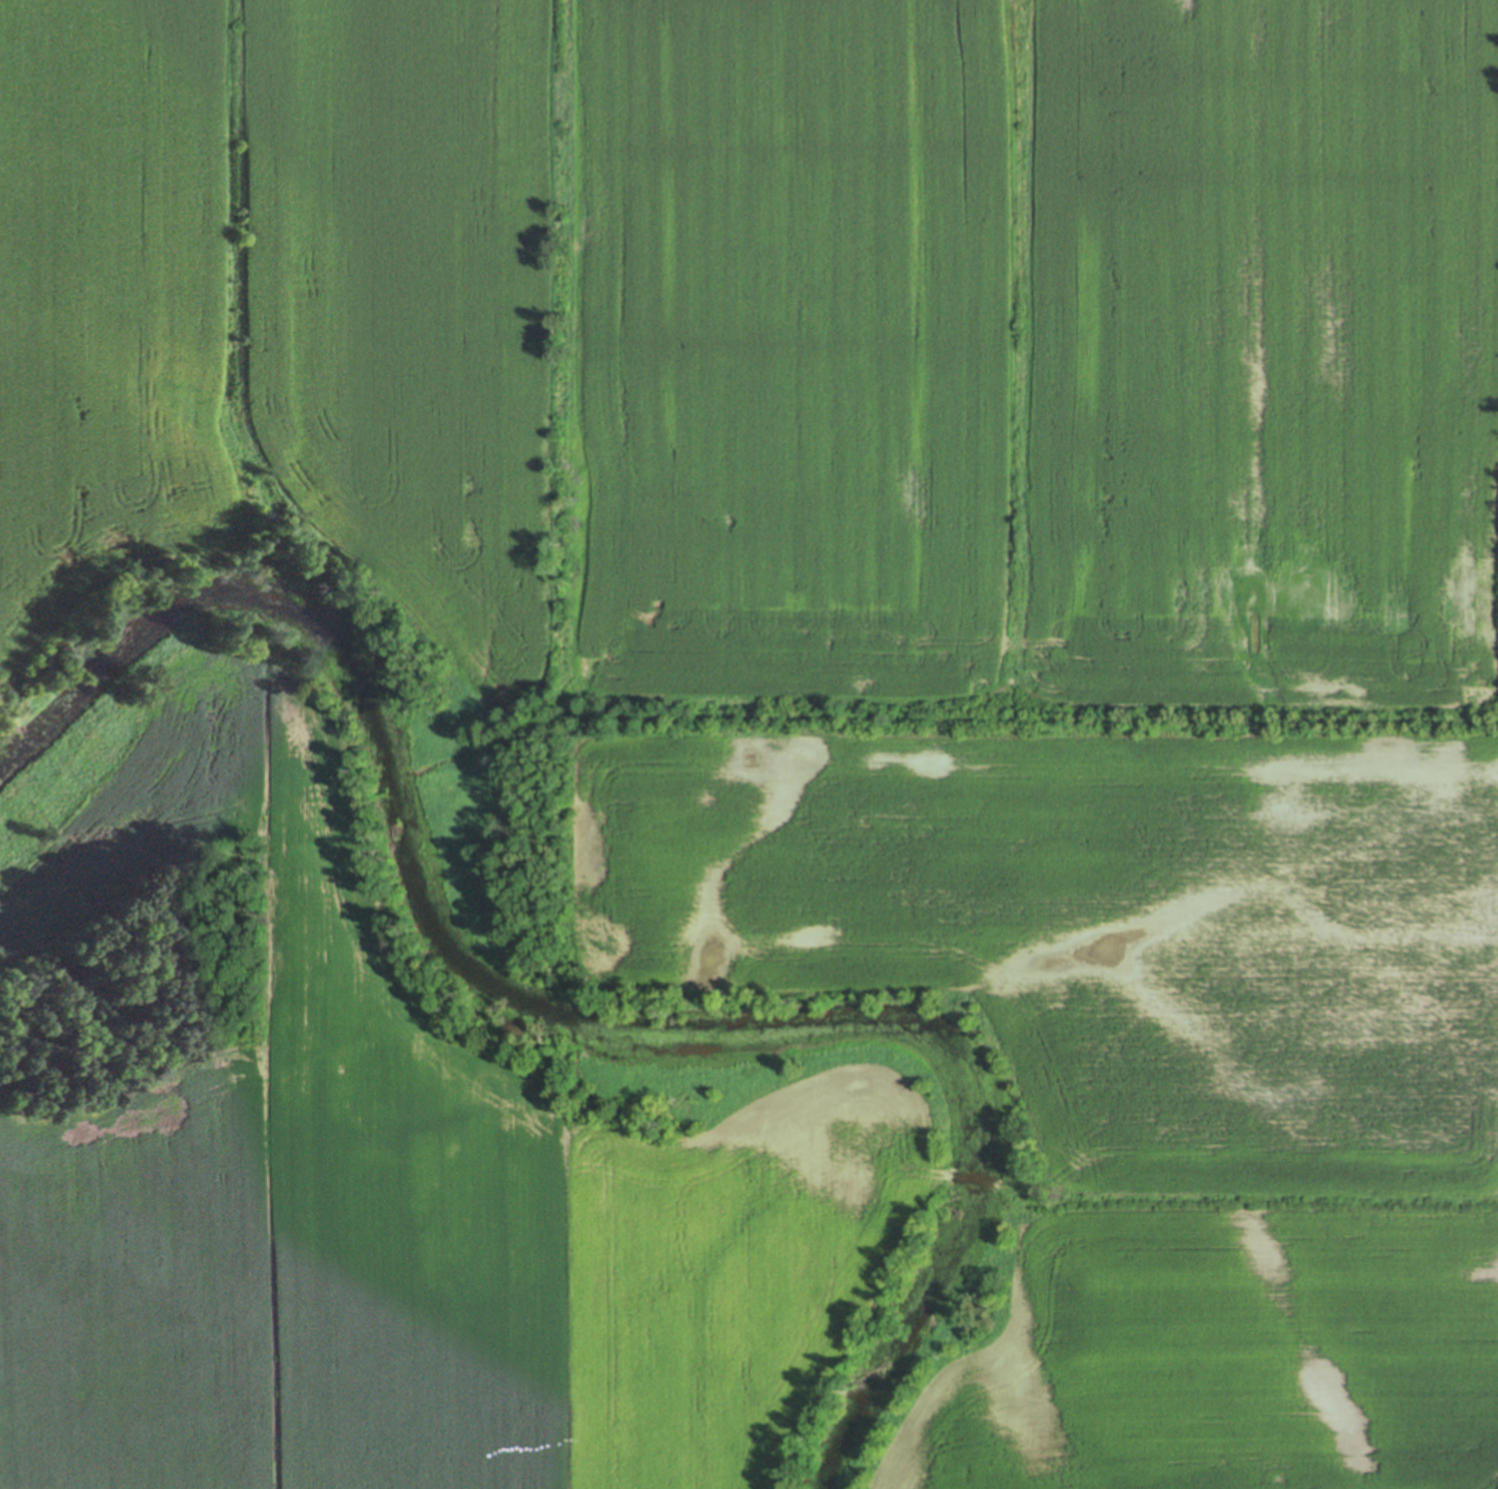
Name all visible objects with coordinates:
crop: (283, 303)
crop: (1043, 350)

